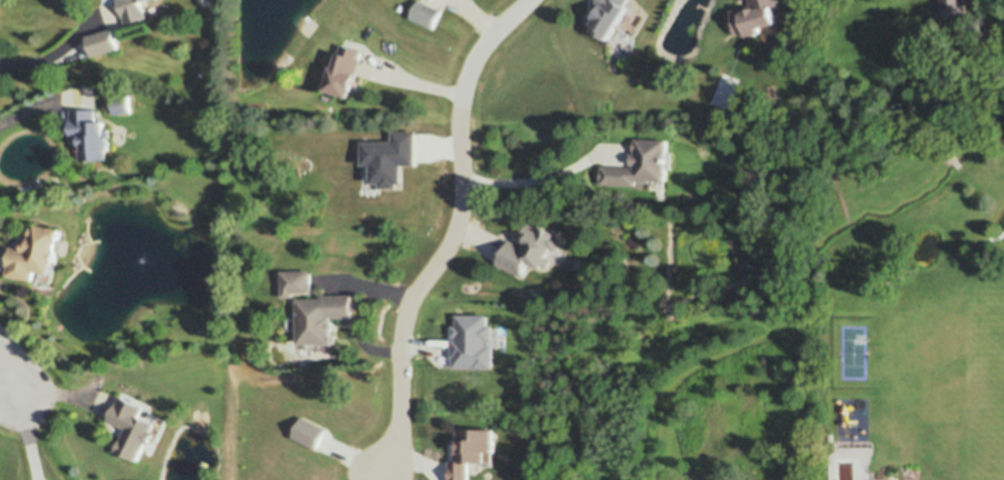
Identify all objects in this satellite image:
building: (433, 0)
building: (206, 1)
building: (955, 6)
building: (134, 10)
building: (426, 12)
building: (607, 15)
building: (755, 15)
building: (105, 41)
road: (53, 52)
building: (345, 70)
road: (416, 82)
building: (122, 103)
road: (40, 105)
building: (90, 133)
building: (642, 164)
road: (537, 179)
road: (454, 234)
building: (531, 248)
building: (34, 252)
building: (297, 281)
building: (323, 316)
road: (19, 368)
road: (11, 404)
building: (133, 427)
road: (28, 441)
building: (472, 451)

